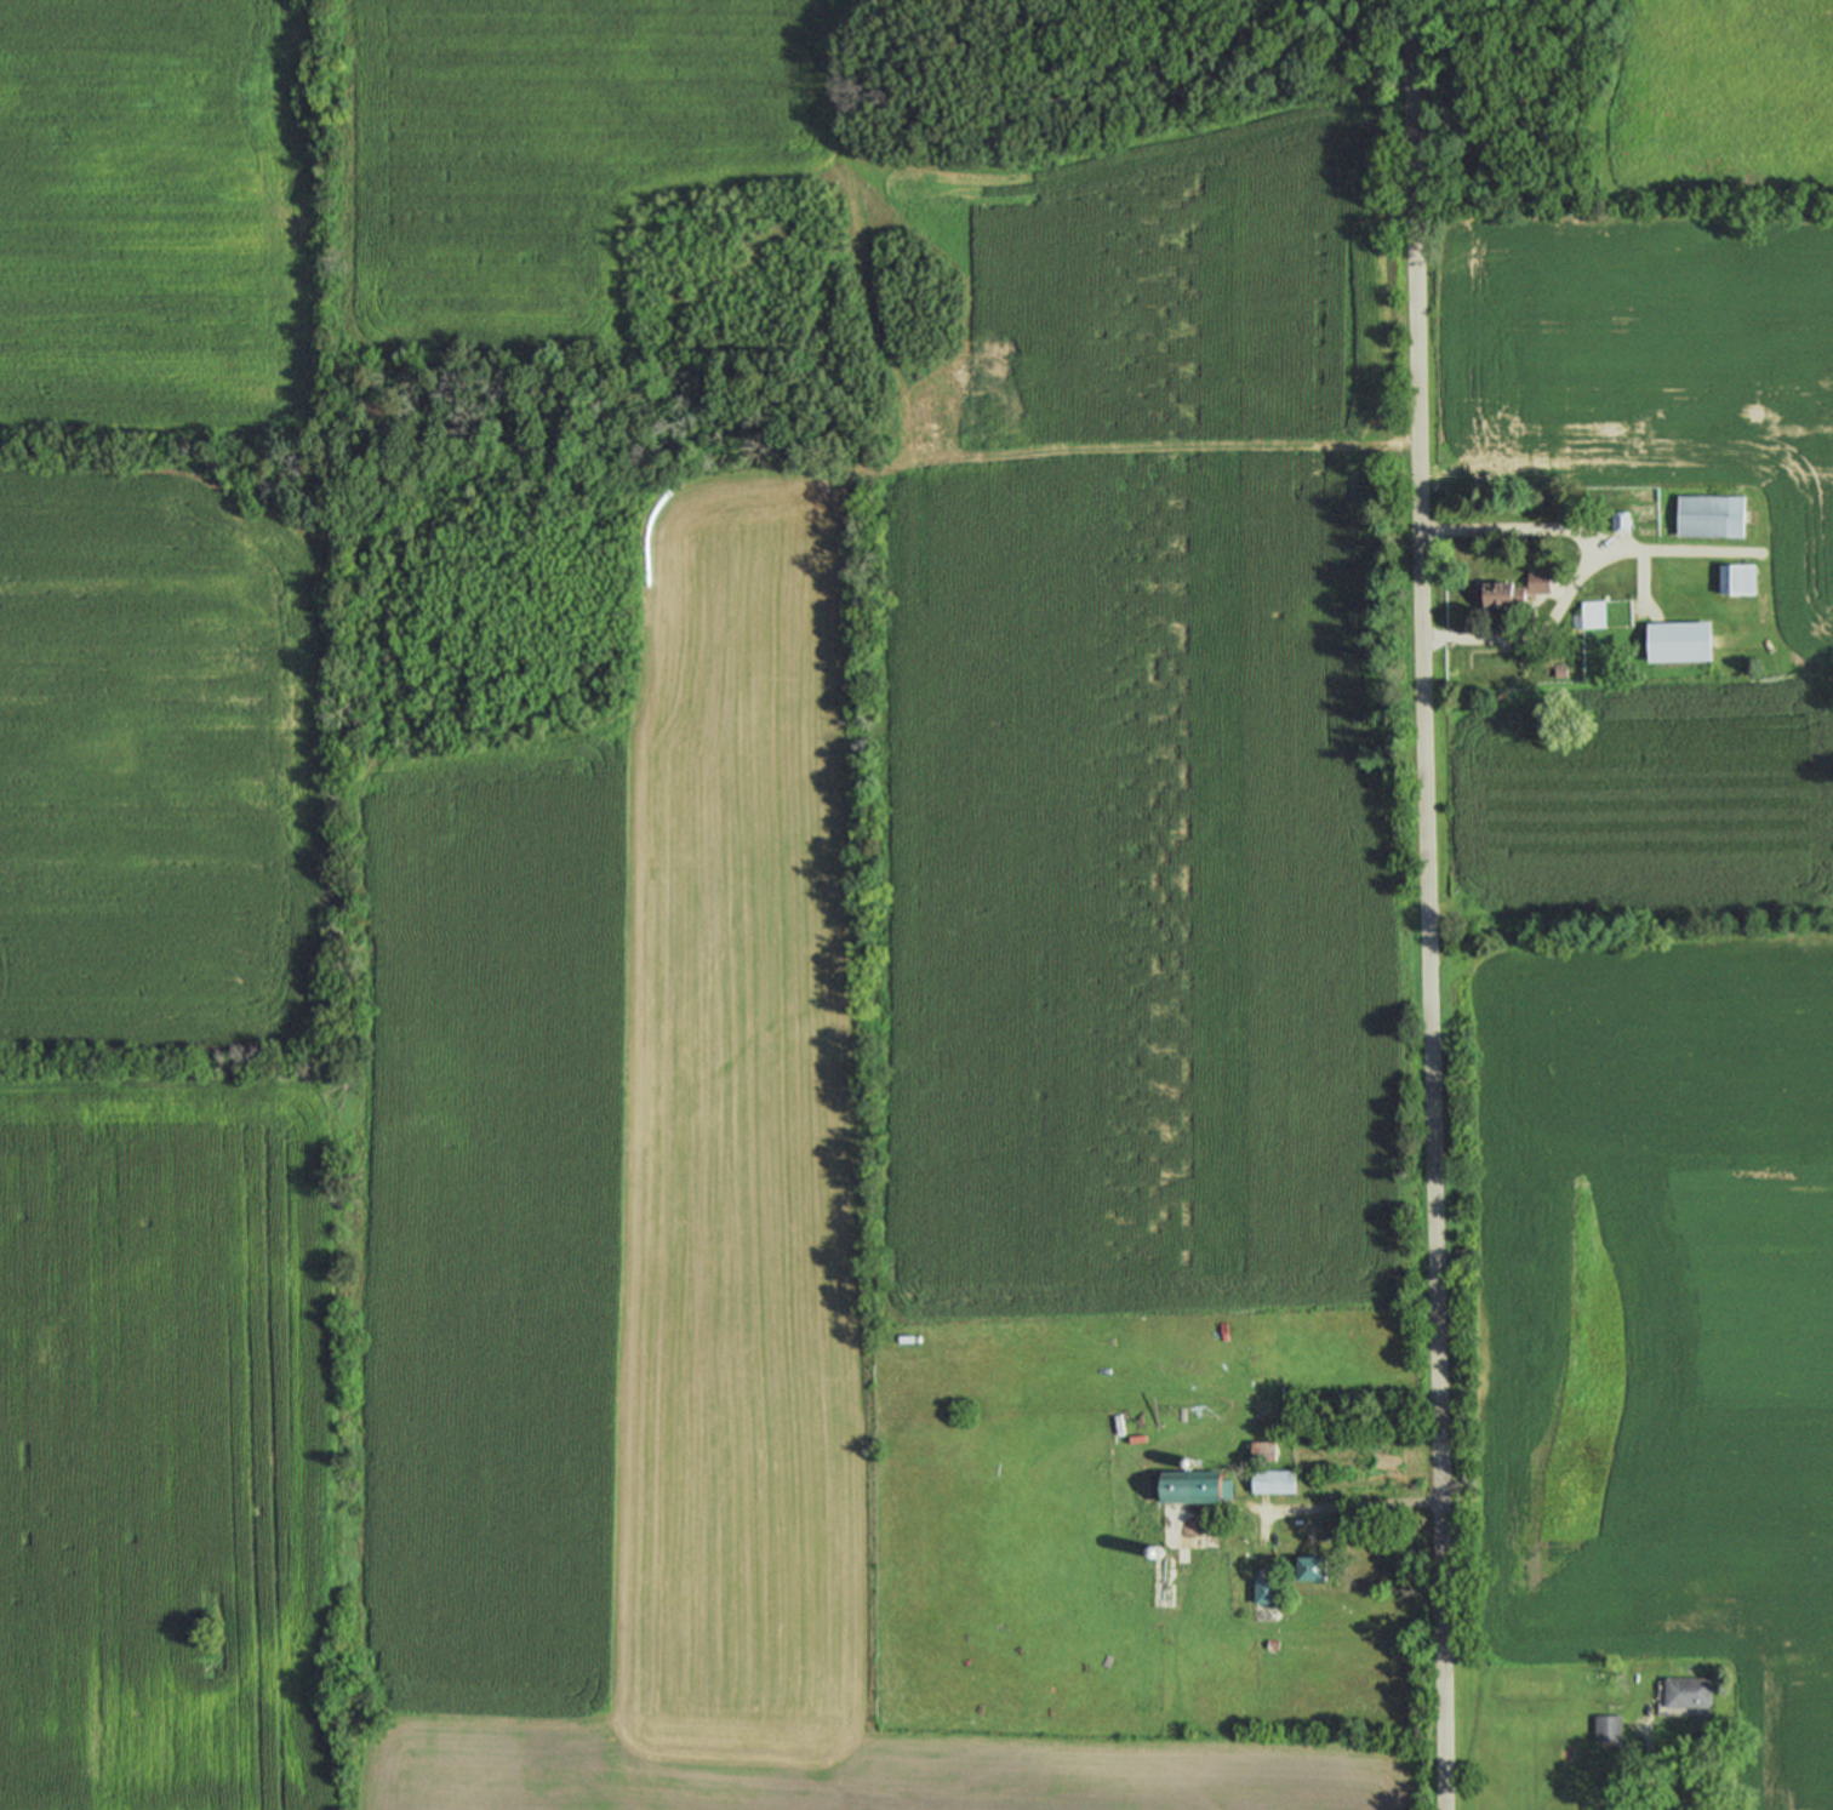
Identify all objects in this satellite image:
road: (1509, 115)
building: (1709, 516)
building: (1618, 521)
road: (1588, 538)
building: (1735, 579)
road: (1641, 581)
building: (1511, 590)
building: (1575, 621)
road: (1534, 633)
building: (1677, 643)
building: (1558, 672)
road: (1428, 904)
building: (1261, 1451)
building: (1272, 1480)
building: (1188, 1485)
road: (1331, 1504)
building: (1308, 1568)
building: (1264, 1591)
building: (1685, 1692)
building: (1605, 1729)
road: (1648, 1757)

